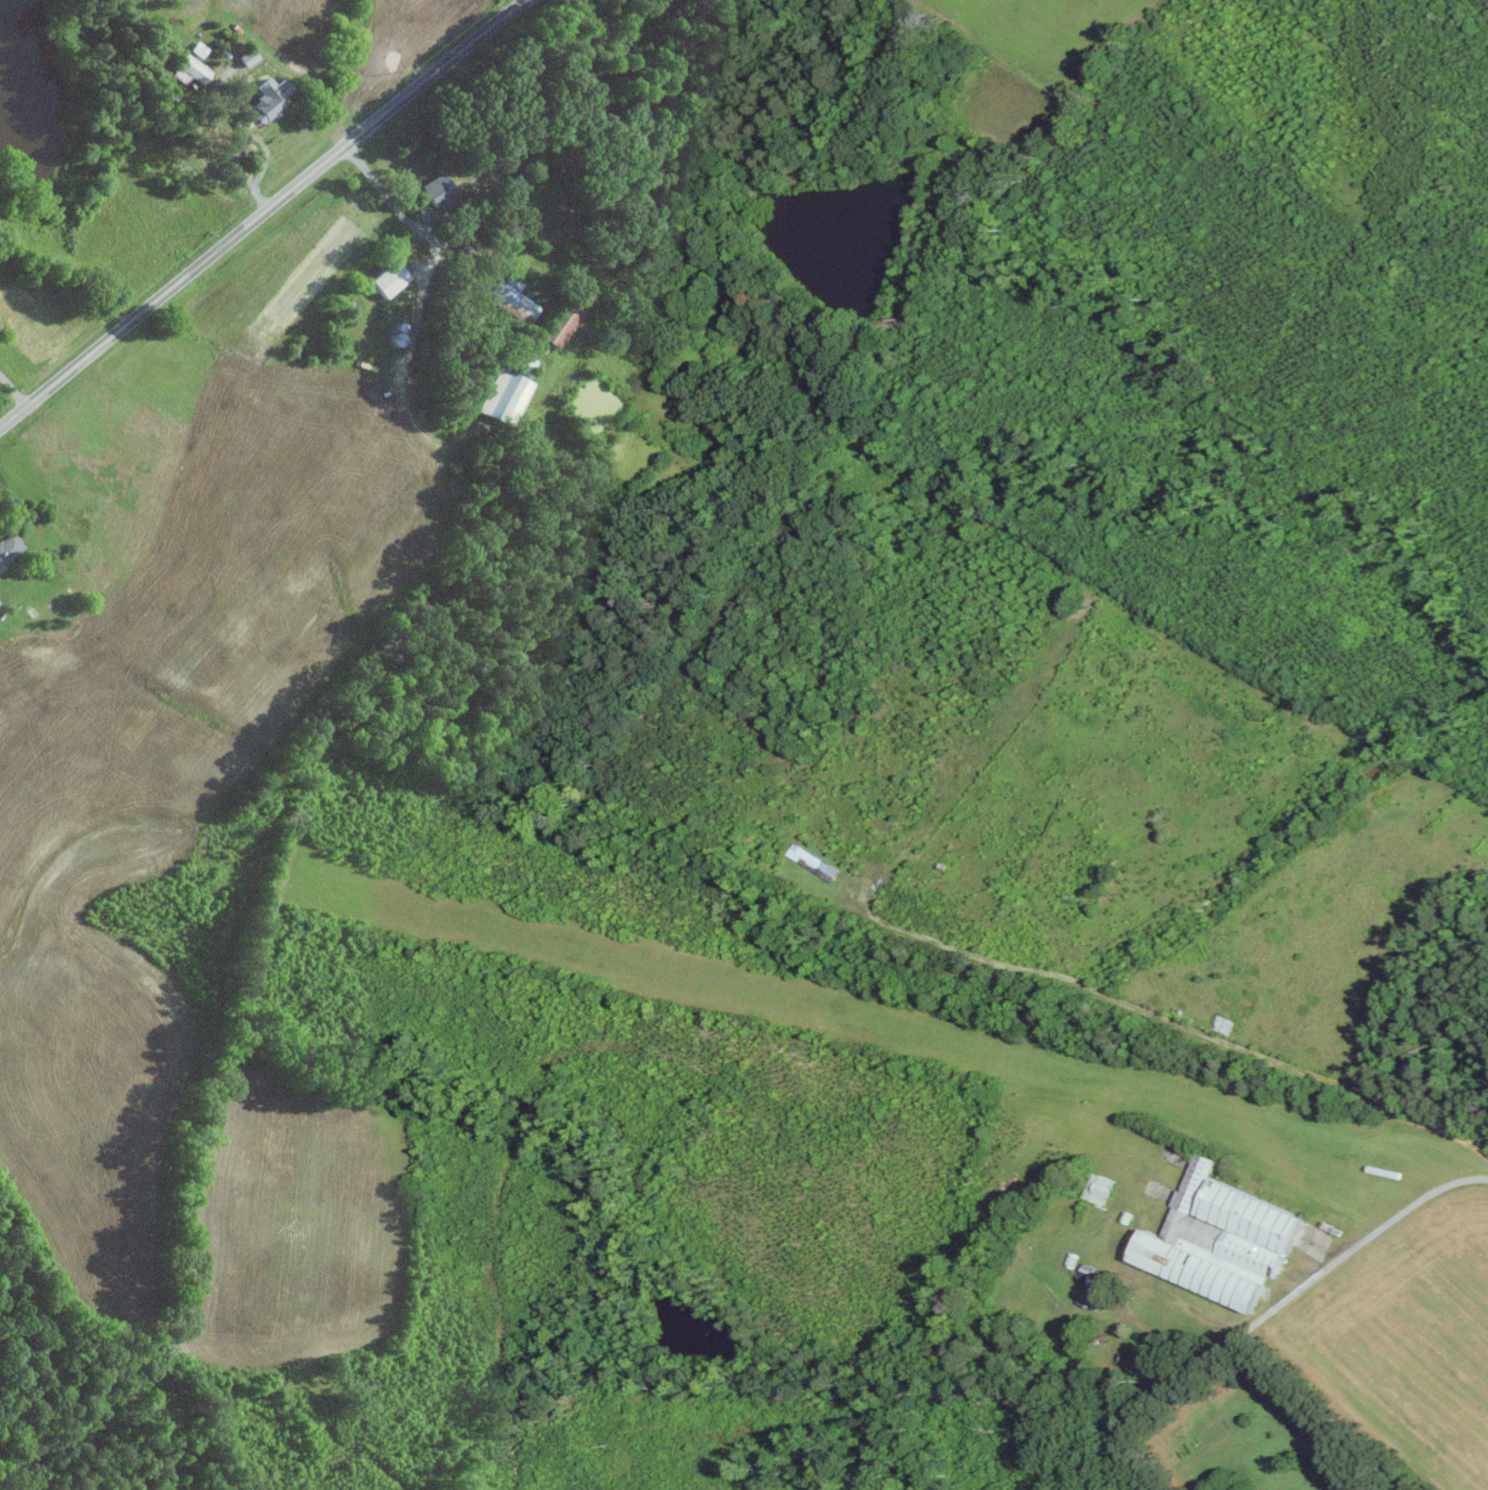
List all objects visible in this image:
building: (198, 50)
building: (247, 58)
building: (193, 70)
road: (235, 142)
building: (437, 190)
road: (262, 214)
building: (387, 279)
road: (424, 289)
building: (510, 302)
building: (567, 316)
road: (13, 391)
building: (504, 394)
building: (8, 547)
airport runway: (836, 1011)
road: (1174, 1020)
building: (1220, 1238)
building: (1092, 1287)
road: (1273, 1312)

